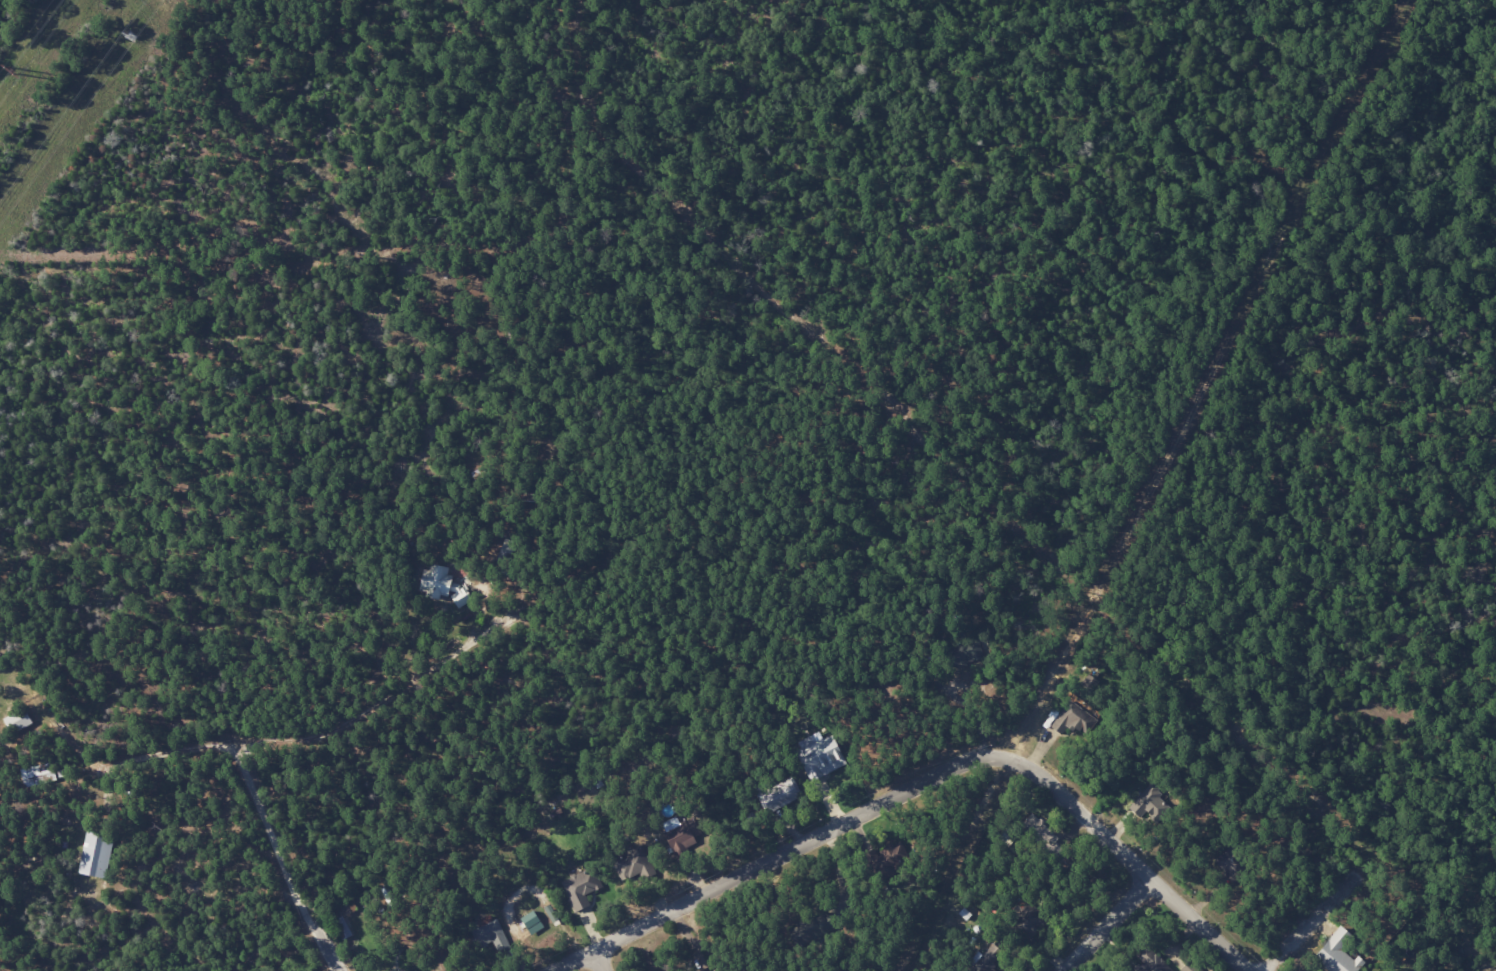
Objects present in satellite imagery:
power tower: (131, 39)
power tower: (13, 71)
building: (443, 584)
building: (1073, 719)
building: (819, 754)
road: (223, 756)
building: (780, 796)
building: (1150, 804)
road: (861, 814)
building: (682, 836)
building: (96, 855)
road: (283, 861)
building: (633, 864)
building: (580, 888)
road: (1322, 921)
building: (532, 922)
road: (1105, 923)
road: (1198, 923)
building: (492, 936)
building: (1338, 953)
road: (598, 961)
building: (1190, 967)
building: (1158, 969)

